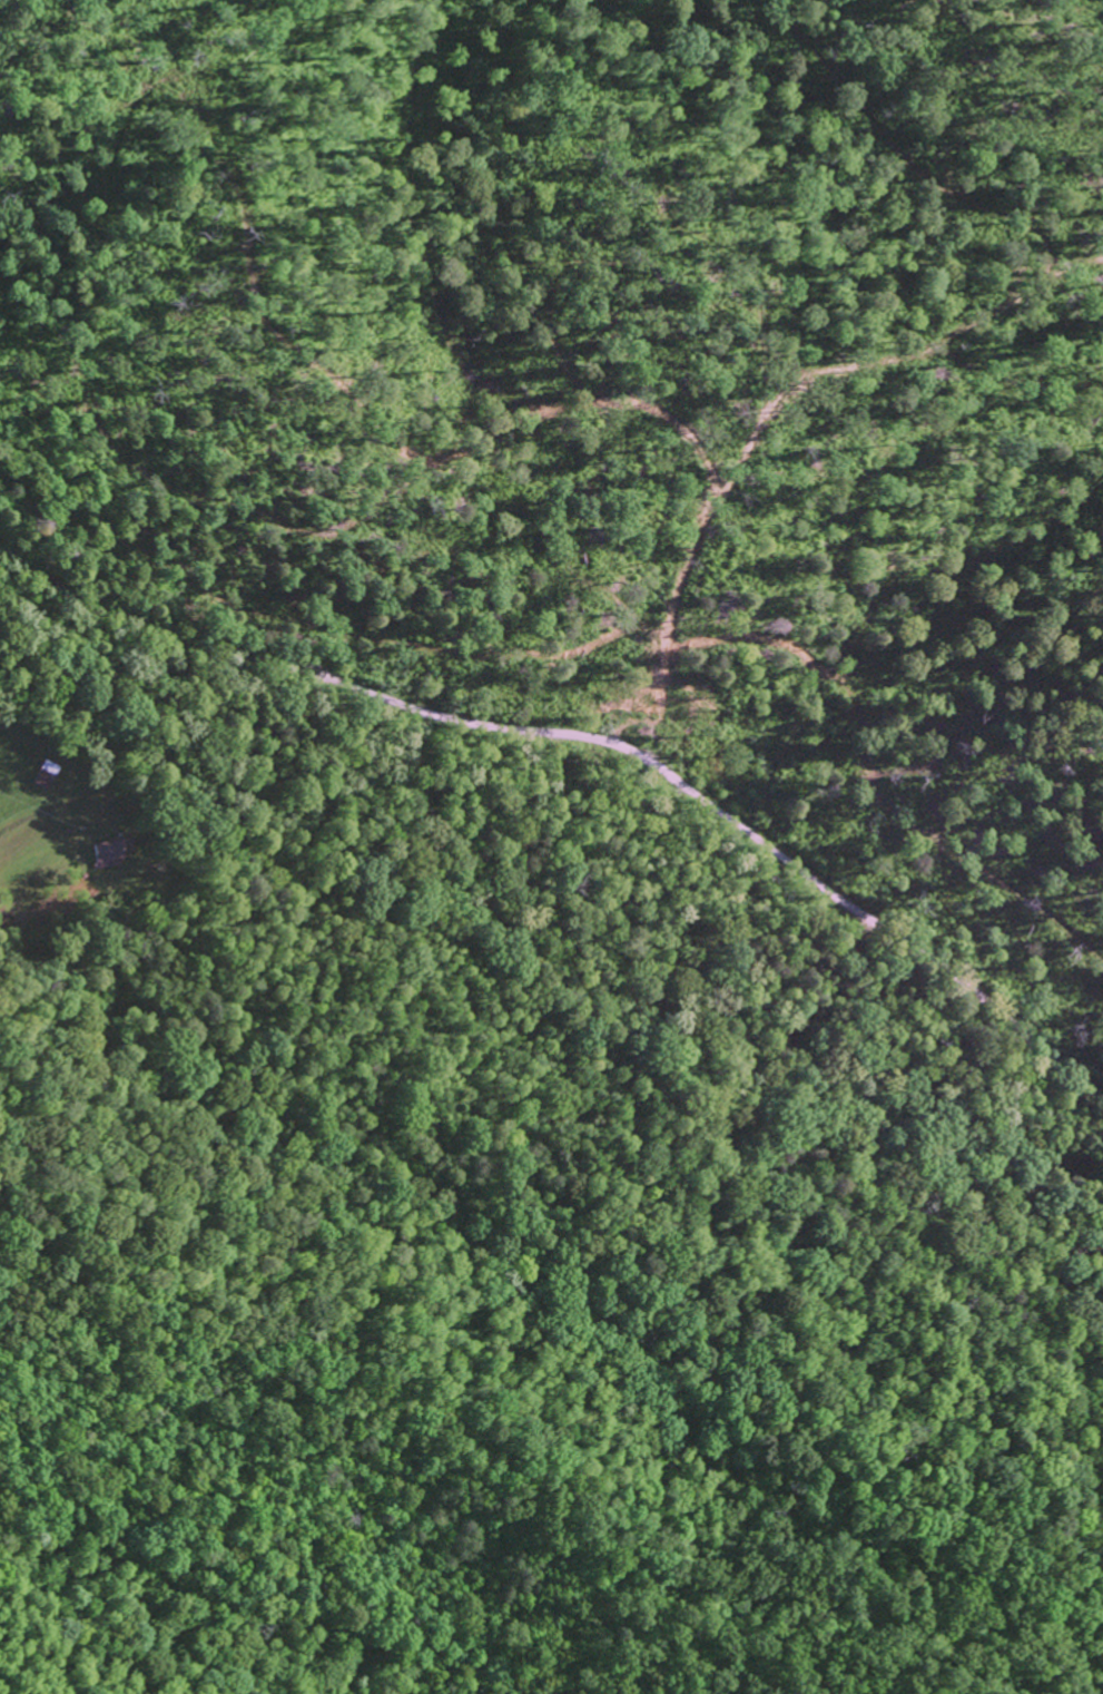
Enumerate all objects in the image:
road: (594, 740)
building: (48, 773)
building: (107, 853)
road: (95, 1259)

